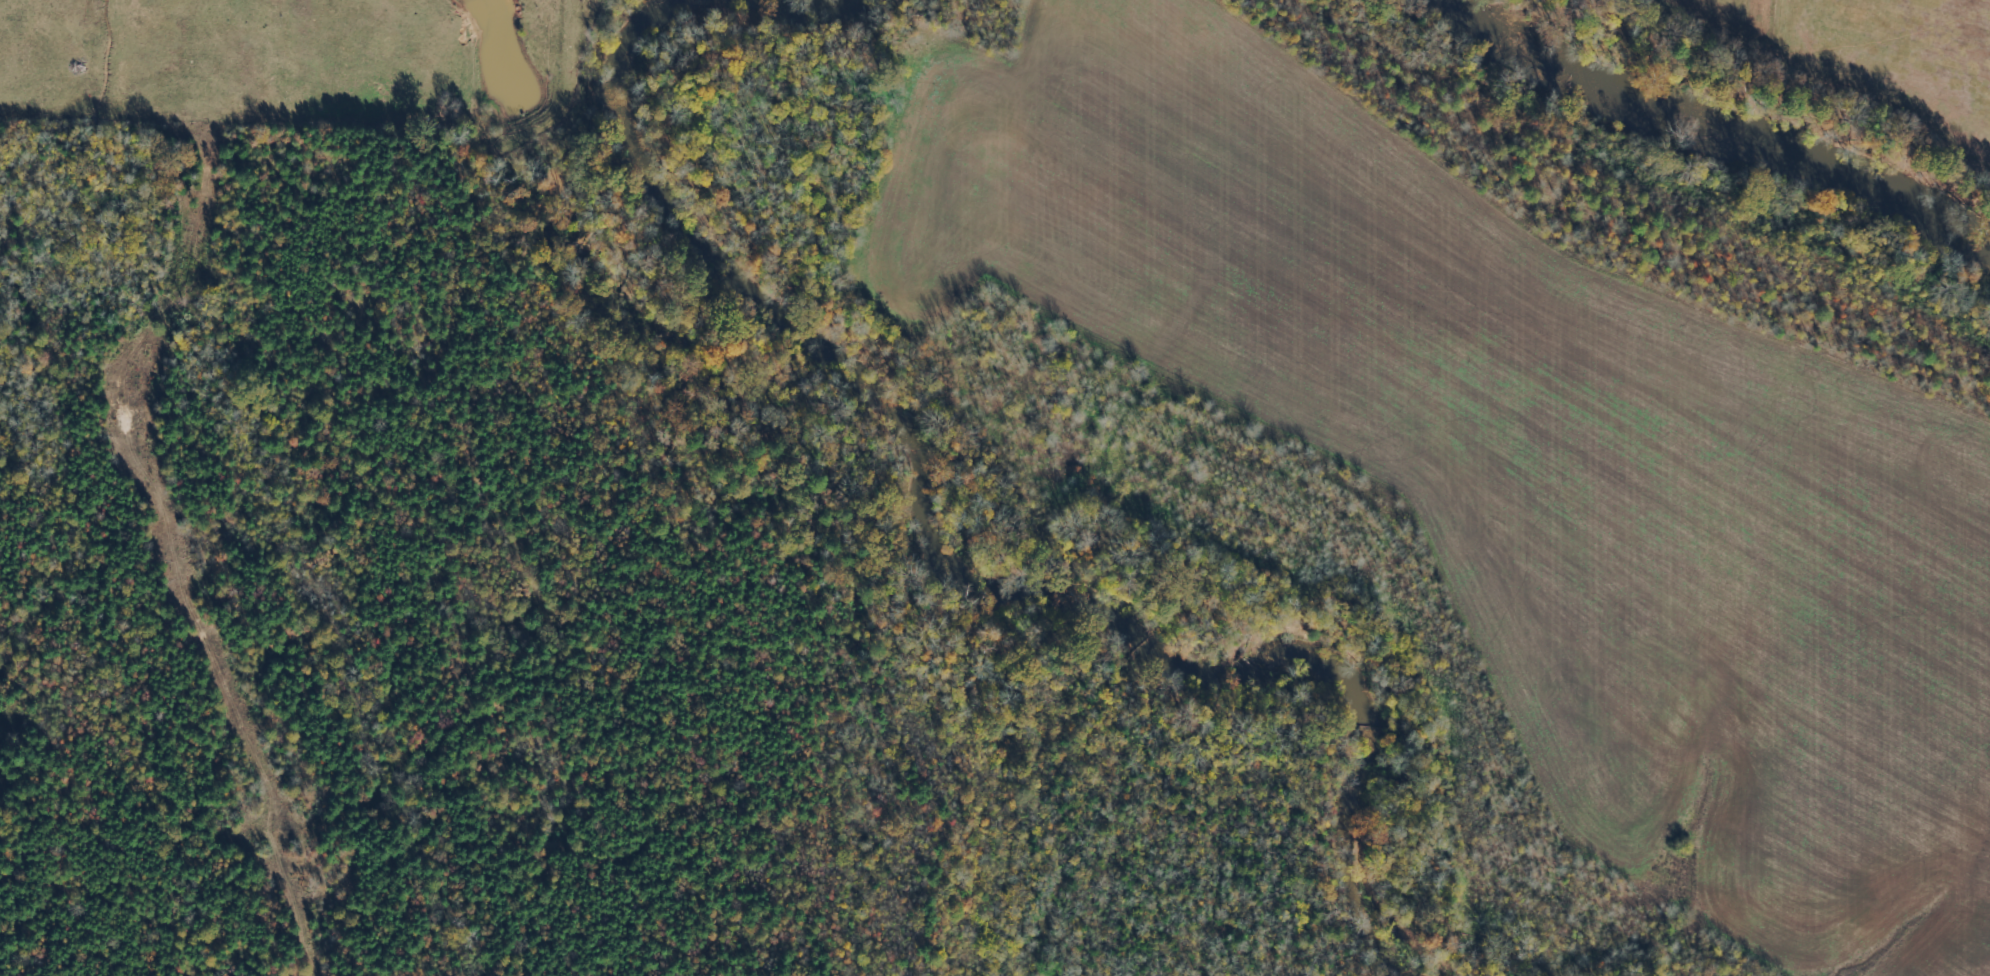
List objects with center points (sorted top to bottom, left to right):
river: (1733, 129)

